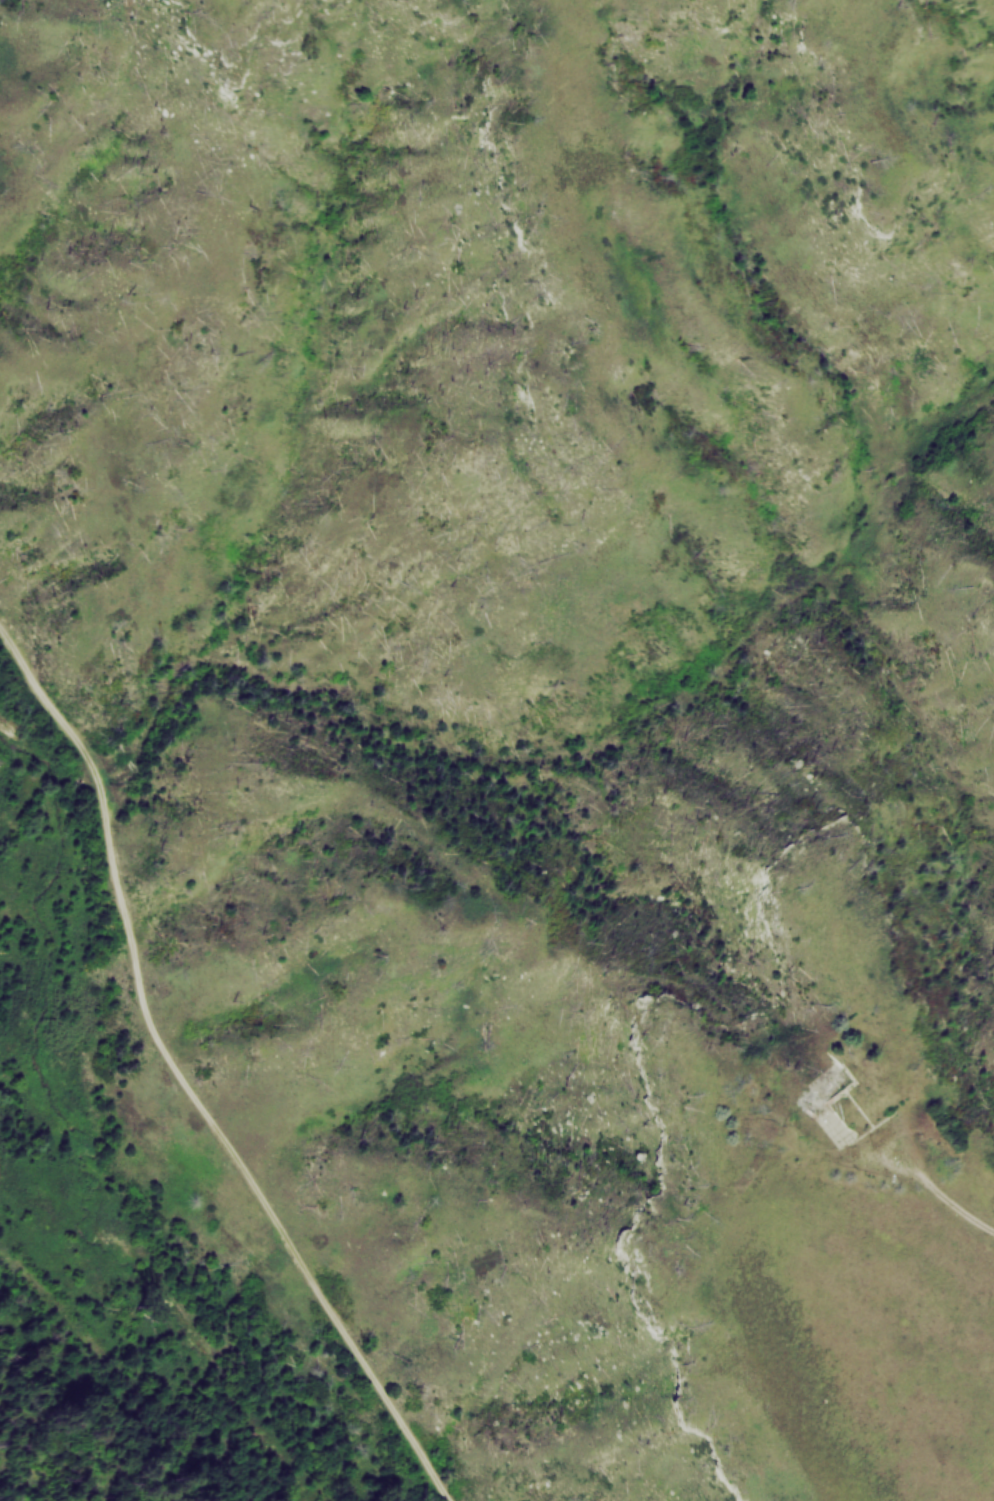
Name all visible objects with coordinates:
road: (913, 1176)

